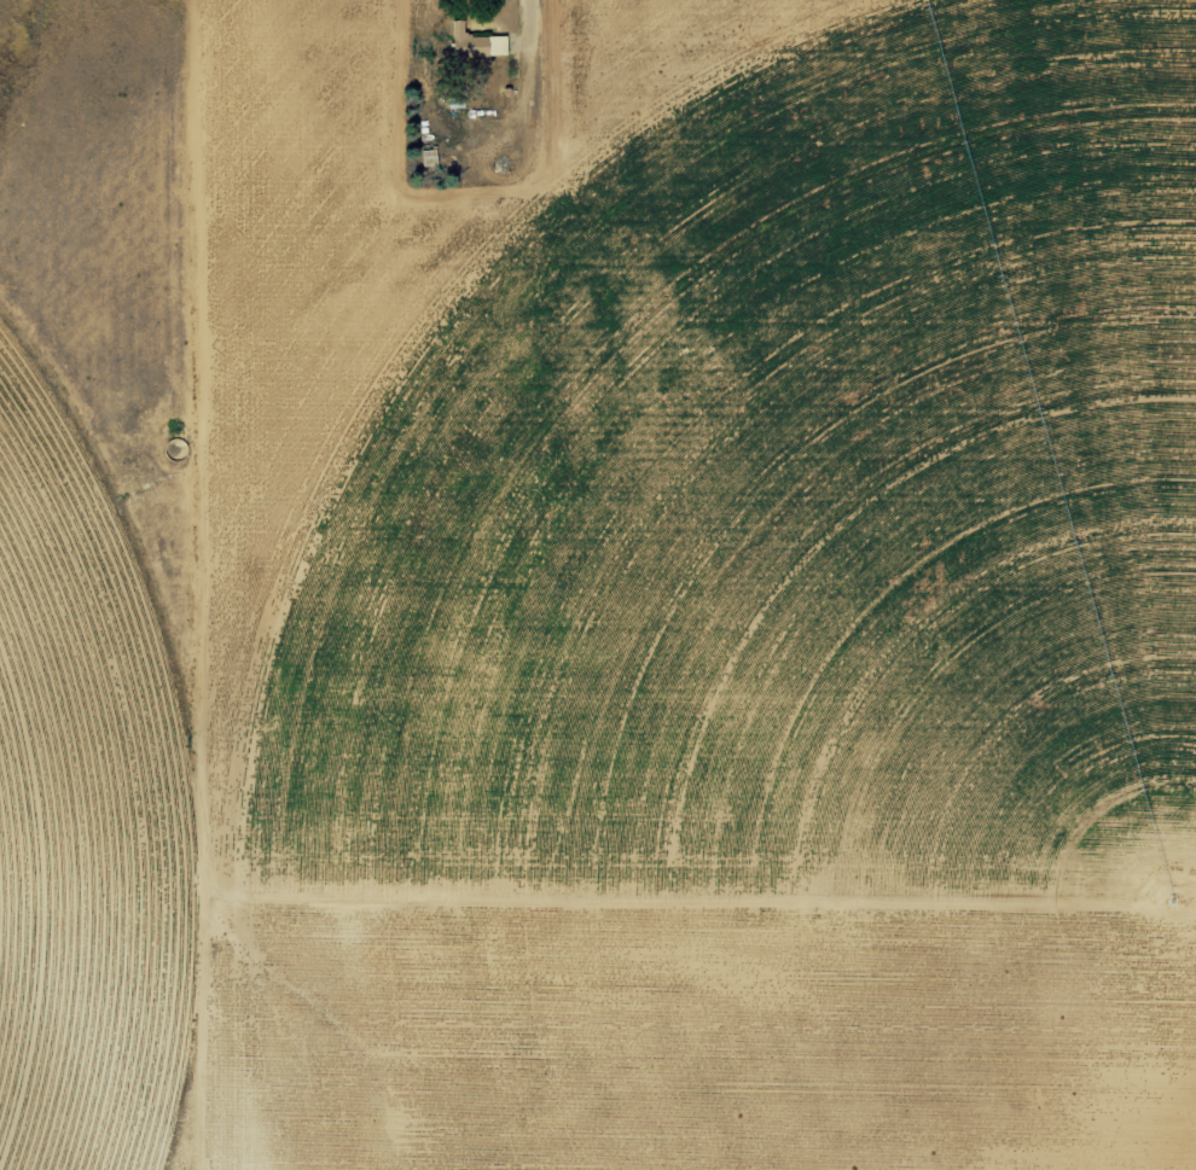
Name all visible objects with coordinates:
road: (527, 17)

